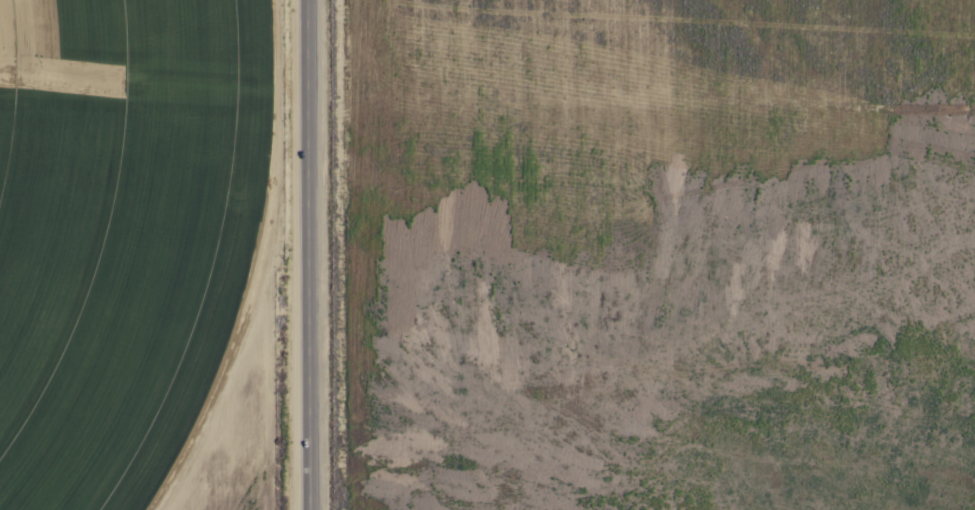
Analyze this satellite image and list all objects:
crop: (497, 249)
road: (314, 255)

